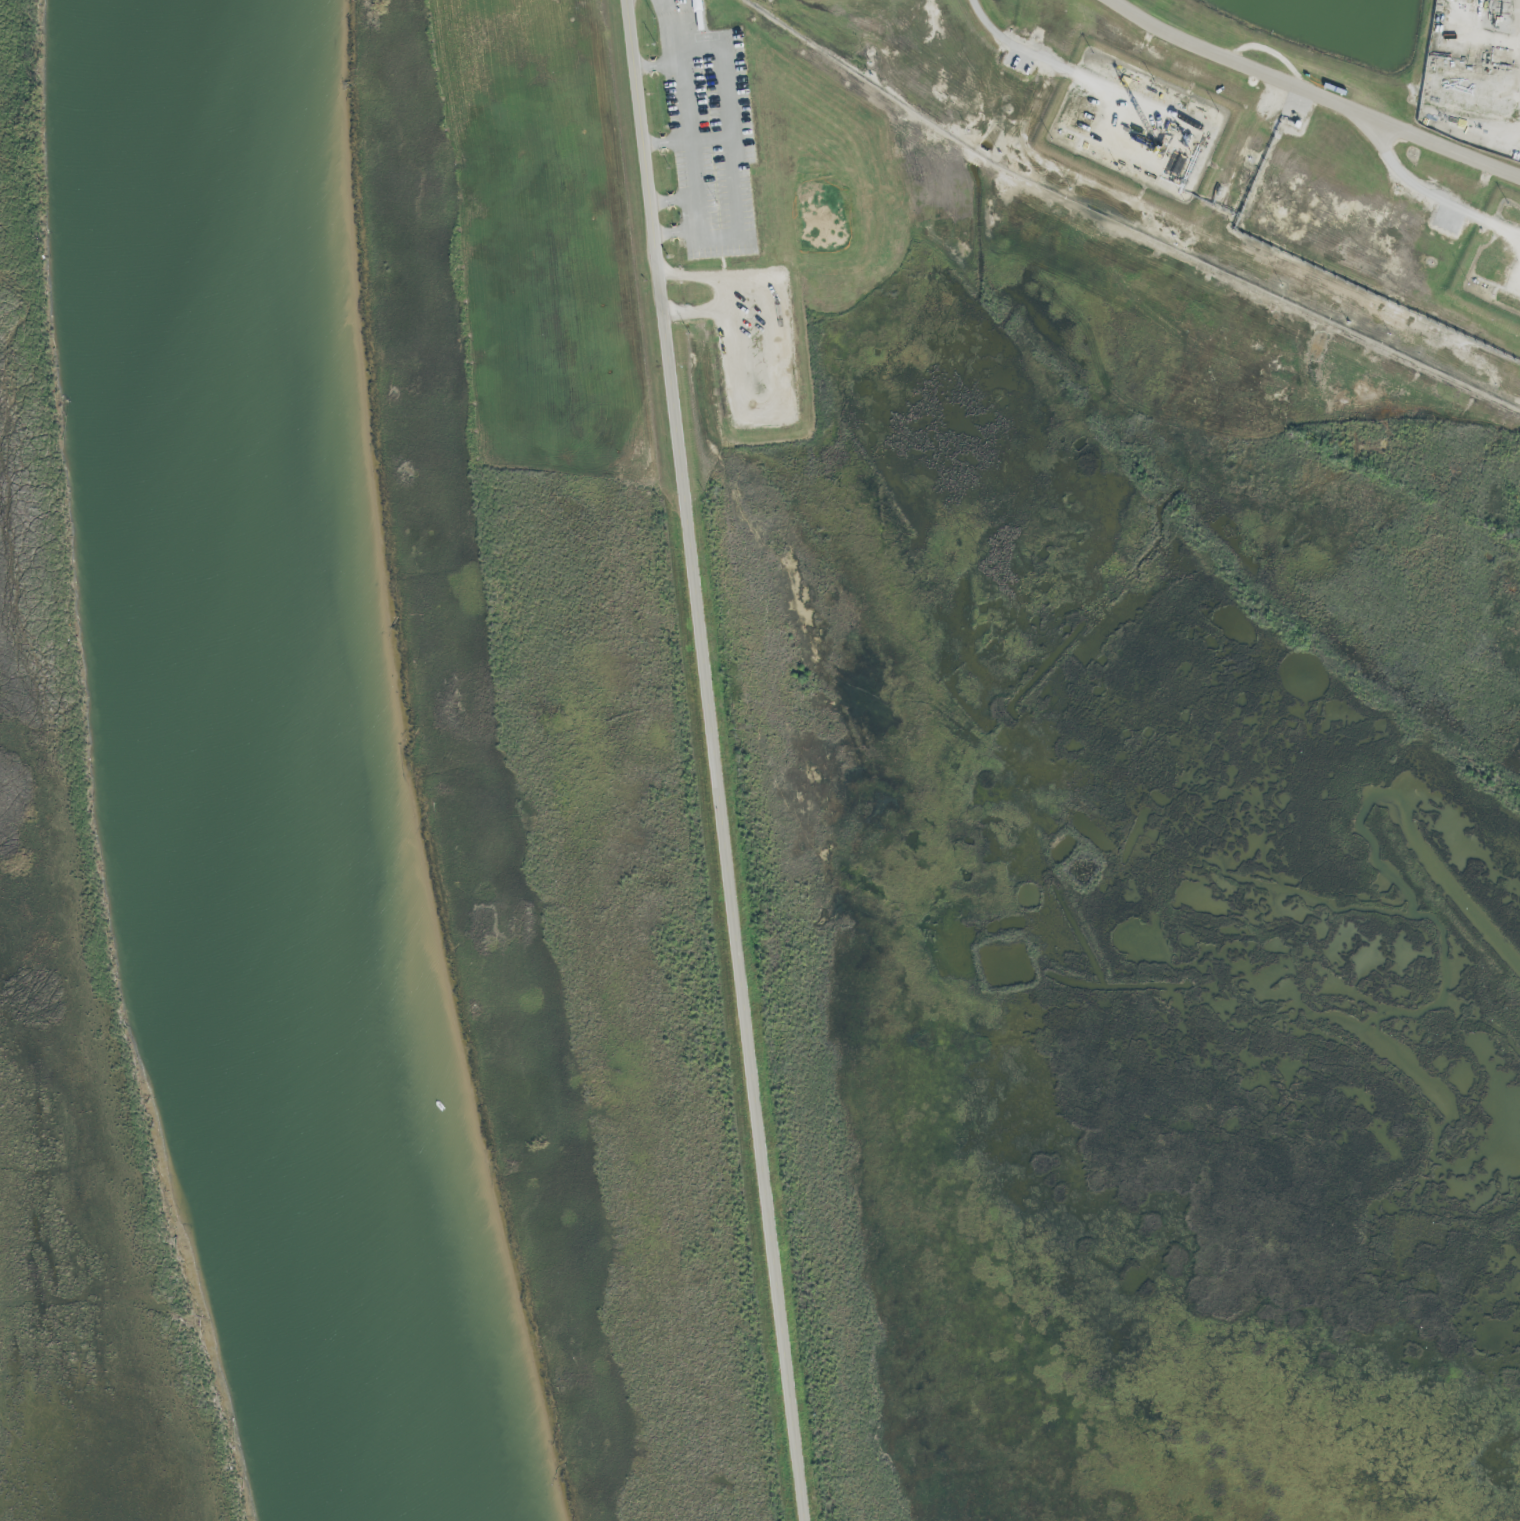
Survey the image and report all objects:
road: (1306, 96)
road: (717, 760)
river: (284, 763)

